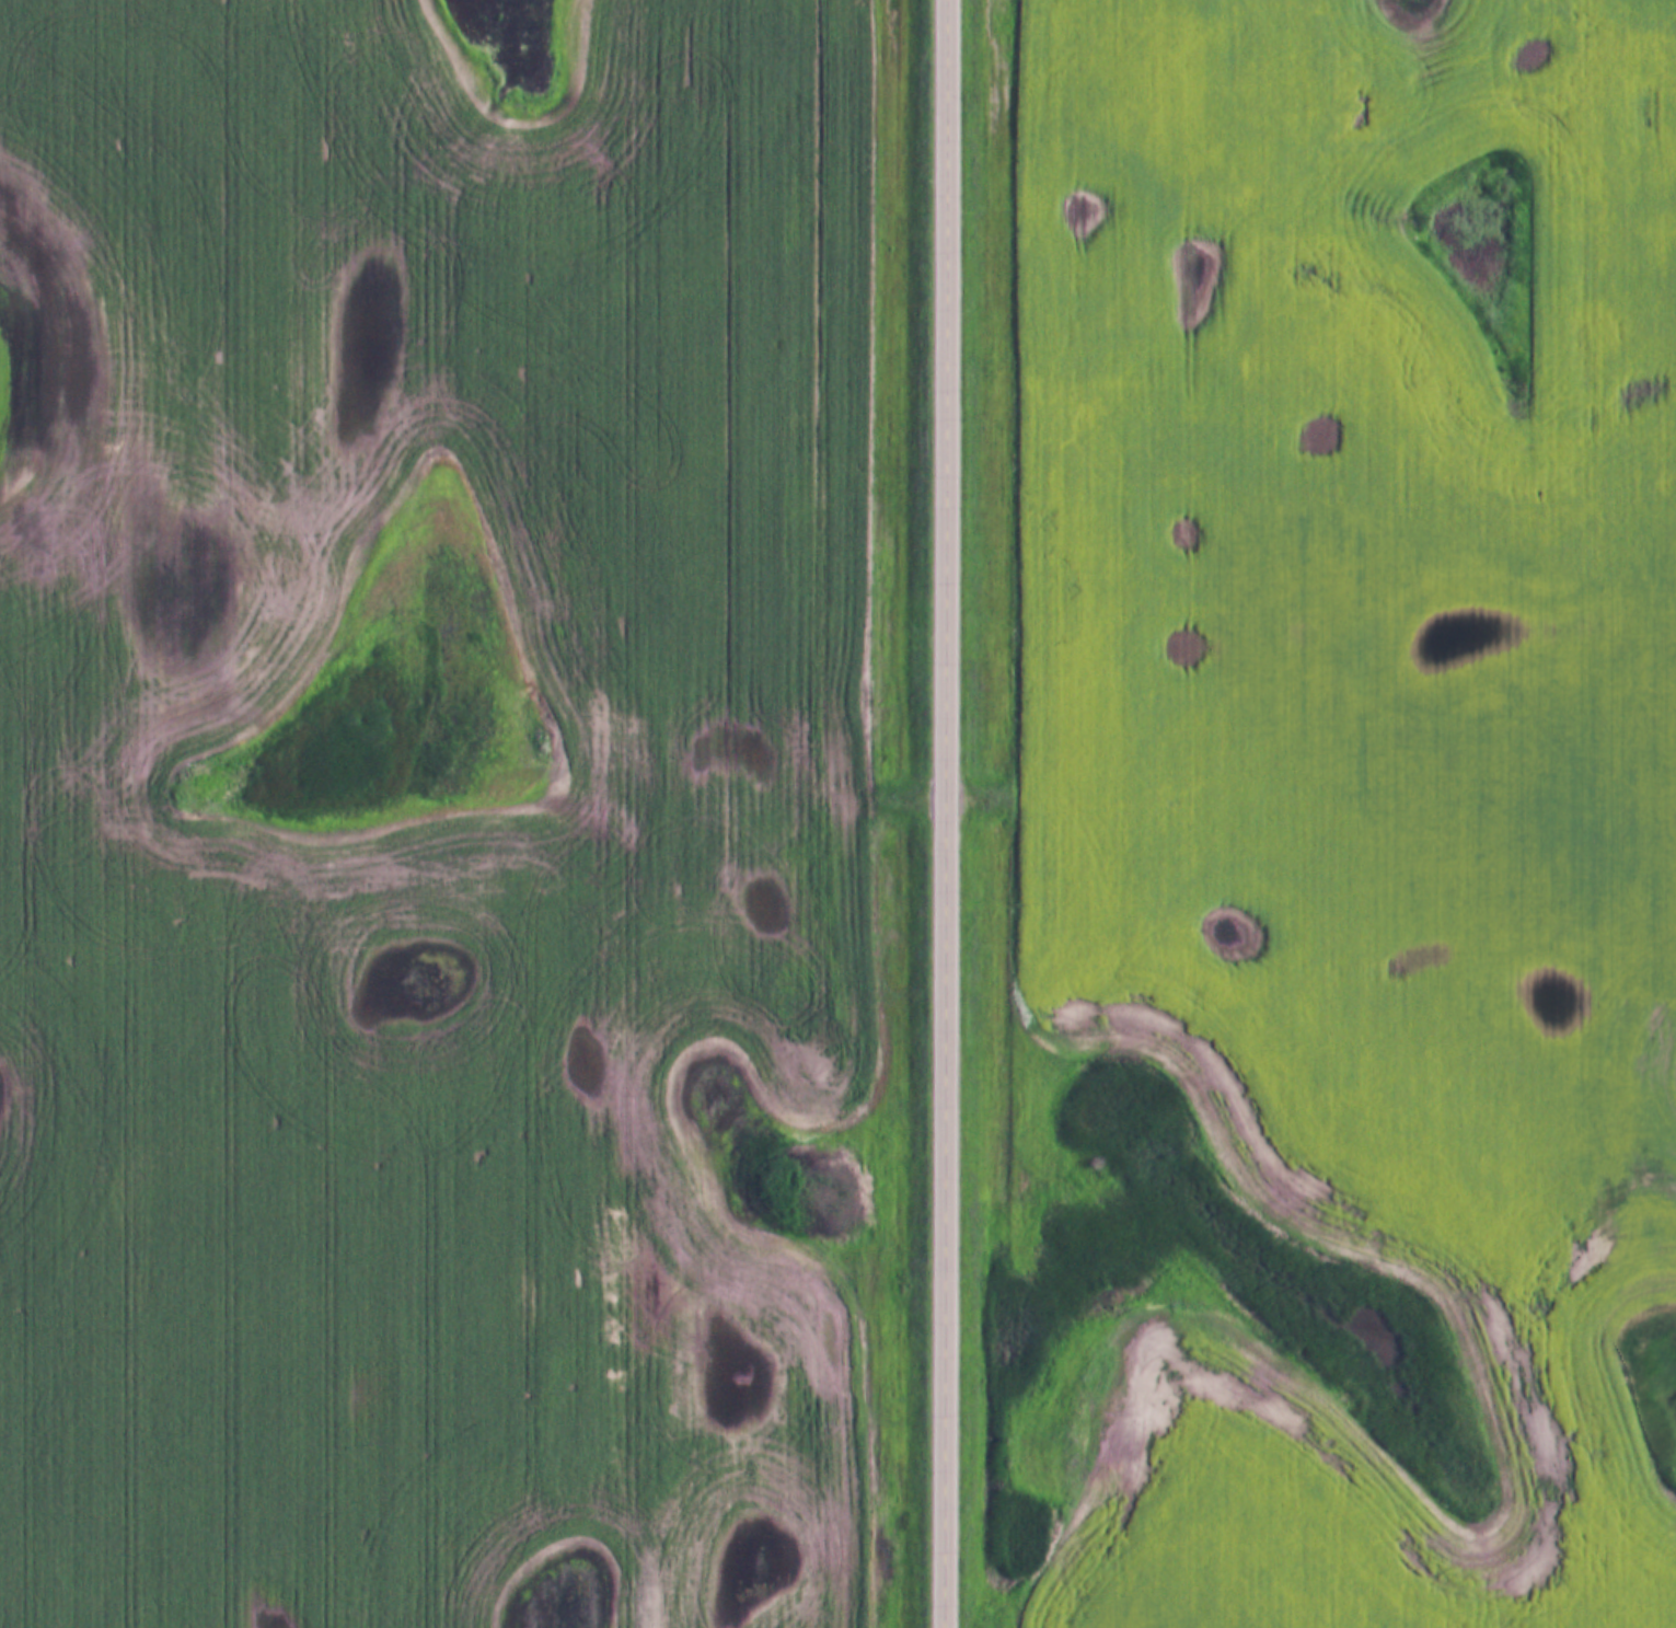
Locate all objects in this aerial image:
road: (944, 813)

